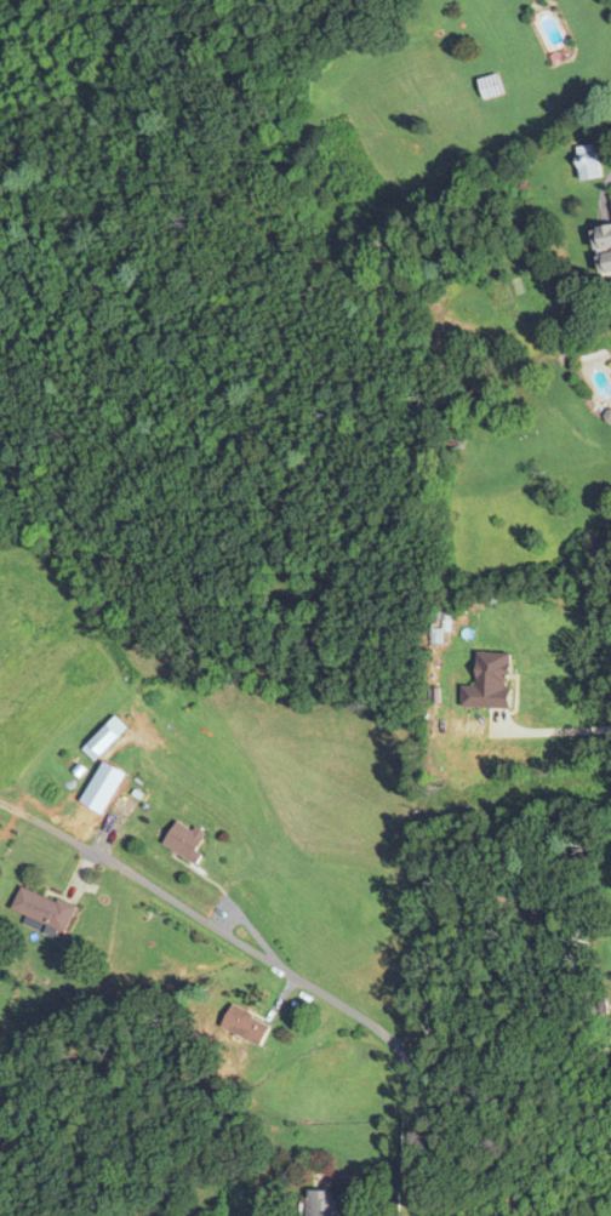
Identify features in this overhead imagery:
building: (489, 86)
building: (588, 161)
road: (555, 730)
building: (104, 737)
building: (121, 805)
building: (184, 841)
building: (42, 907)
road: (274, 965)
building: (246, 1026)
building: (320, 1203)

